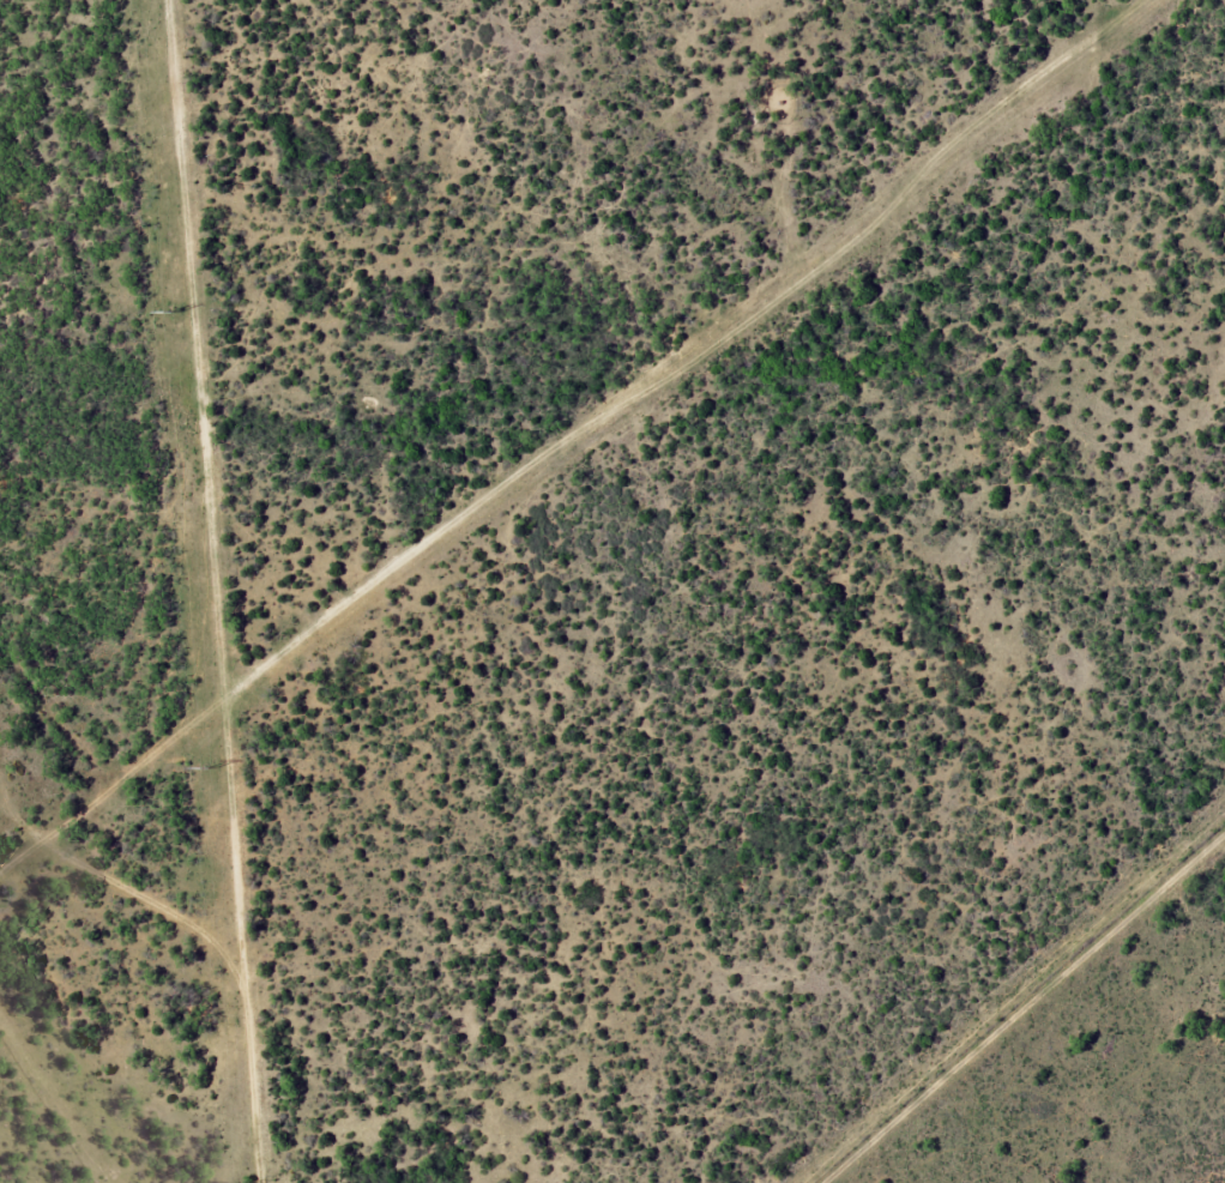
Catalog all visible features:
road: (453, 129)
power tower: (176, 312)
power tower: (211, 768)
road: (1037, 1028)
road: (59, 1090)

